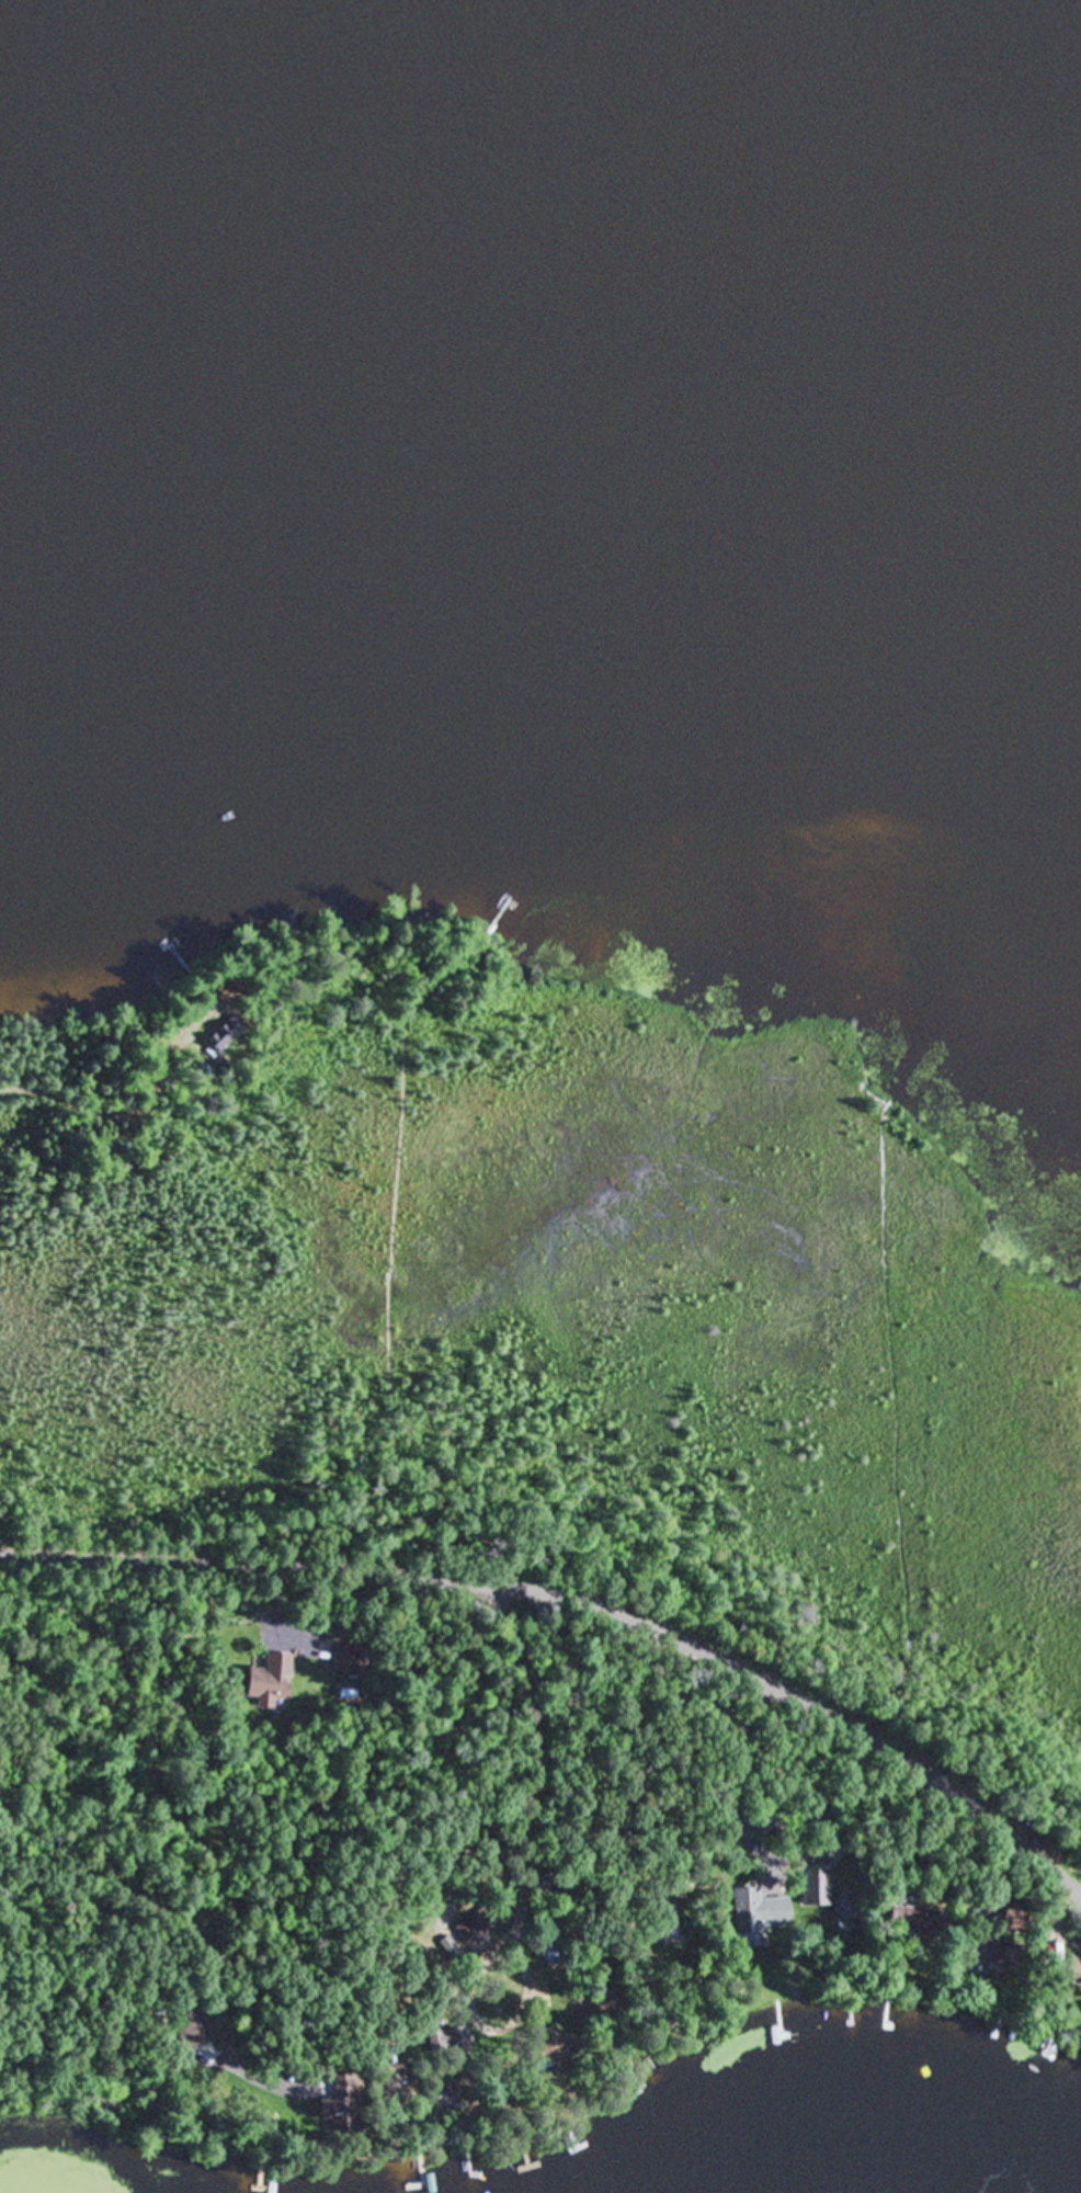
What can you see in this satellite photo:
road: (578, 1597)
building: (343, 1662)
building: (263, 1685)
road: (107, 1891)
building: (742, 1916)
building: (902, 1919)
building: (672, 1921)
building: (468, 1930)
building: (985, 1952)
building: (196, 2029)
building: (446, 2044)
building: (546, 2055)
building: (376, 2082)
building: (441, 2098)
building: (325, 2115)

